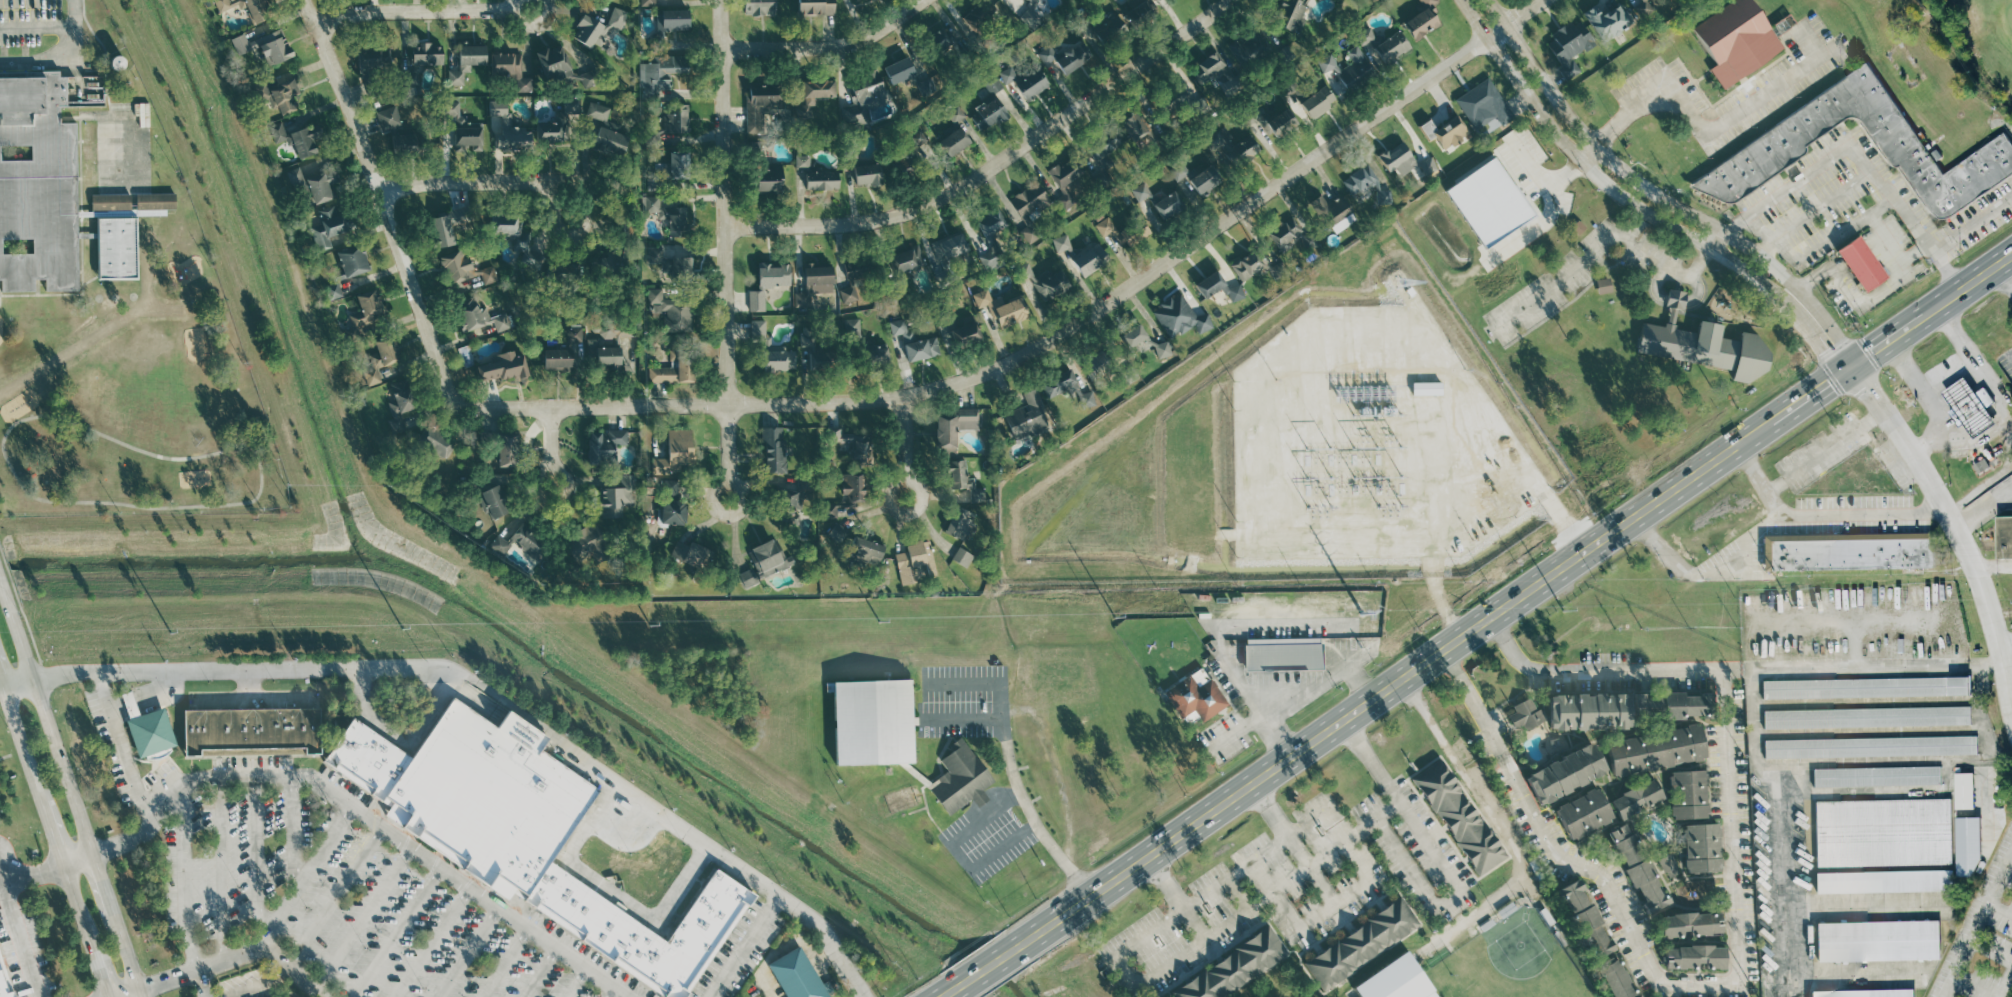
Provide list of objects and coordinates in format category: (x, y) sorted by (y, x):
building: (1035, 0)
building: (851, 1)
building: (647, 3)
building: (246, 8)
building: (758, 8)
building: (814, 8)
building: (1641, 8)
road: (423, 12)
building: (1033, 14)
building: (1286, 14)
building: (1139, 16)
building: (616, 18)
building: (975, 18)
building: (671, 20)
building: (1421, 20)
building: (1612, 22)
road: (37, 27)
building: (587, 32)
building: (1110, 32)
building: (1368, 36)
building: (1735, 40)
building: (936, 42)
building: (240, 45)
road: (831, 45)
building: (1568, 45)
building: (1388, 48)
building: (273, 49)
building: (1242, 50)
building: (1065, 57)
building: (375, 58)
road: (68, 62)
building: (552, 62)
building: (465, 63)
building: (415, 69)
building: (1206, 69)
building: (510, 71)
building: (898, 72)
building: (1355, 73)
building: (661, 74)
building: (1007, 76)
building: (589, 79)
building: (992, 85)
building: (1031, 85)
building: (276, 96)
building: (813, 97)
building: (862, 98)
building: (1169, 102)
building: (1318, 103)
building: (1483, 105)
building: (758, 111)
building: (955, 115)
building: (988, 116)
building: (1252, 116)
building: (388, 119)
road: (1700, 119)
building: (674, 120)
building: (557, 123)
building: (1280, 123)
building: (1135, 128)
building: (506, 129)
building: (1446, 132)
building: (606, 135)
building: (1788, 135)
building: (297, 138)
building: (468, 138)
building: (917, 139)
building: (953, 143)
building: (402, 145)
building: (1229, 148)
building: (1101, 150)
building: (1397, 159)
building: (102, 161)
building: (801, 162)
road: (996, 165)
building: (1416, 165)
building: (676, 166)
building: (907, 167)
building: (1426, 167)
road: (1876, 172)
building: (762, 174)
building: (1062, 174)
building: (866, 176)
building: (1196, 178)
building: (820, 180)
road: (483, 182)
building: (654, 183)
building: (314, 184)
building: (1364, 184)
building: (37, 185)
building: (1141, 193)
road: (1659, 196)
building: (1029, 201)
building: (1065, 201)
road: (1634, 204)
building: (1167, 205)
building: (1499, 209)
building: (1337, 214)
road: (389, 215)
building: (668, 216)
building: (990, 222)
building: (329, 227)
building: (444, 227)
building: (1108, 227)
building: (1580, 227)
building: (1132, 232)
building: (1031, 234)
building: (512, 235)
building: (1289, 235)
road: (1886, 235)
road: (1828, 241)
building: (1063, 243)
building: (115, 248)
building: (948, 248)
road: (726, 250)
road: (1649, 252)
building: (614, 254)
building: (1089, 260)
building: (351, 261)
building: (1251, 262)
building: (1859, 262)
building: (670, 263)
road: (1698, 266)
building: (904, 267)
road: (1947, 269)
building: (465, 270)
building: (858, 270)
road: (1678, 270)
building: (562, 275)
road: (2003, 276)
road: (1566, 277)
building: (1044, 282)
building: (768, 283)
building: (812, 283)
building: (1210, 284)
building: (1607, 286)
building: (333, 291)
road: (1871, 295)
road: (1675, 298)
building: (1001, 308)
building: (671, 312)
building: (363, 315)
building: (478, 317)
building: (1180, 317)
building: (757, 329)
building: (851, 329)
building: (577, 332)
building: (956, 333)
road: (1060, 333)
building: (1132, 336)
building: (808, 337)
building: (914, 343)
building: (768, 344)
building: (1165, 349)
building: (1710, 349)
building: (875, 357)
building: (605, 358)
road: (1972, 358)
building: (380, 359)
building: (556, 359)
building: (778, 361)
building: (822, 362)
building: (1097, 364)
traffic signals: (1852, 364)
building: (502, 366)
building: (674, 370)
building: (1062, 383)
building: (400, 401)
road: (1930, 401)
building: (1970, 407)
building: (1028, 416)
building: (952, 428)
building: (434, 442)
road: (553, 446)
building: (603, 446)
road: (906, 448)
building: (505, 450)
building: (772, 450)
building: (860, 452)
building: (675, 453)
road: (1831, 454)
road: (1766, 479)
building: (963, 481)
building: (1859, 483)
building: (853, 490)
building: (670, 492)
building: (615, 498)
building: (494, 501)
building: (791, 505)
road: (1988, 512)
building: (671, 513)
building: (960, 524)
road: (1962, 526)
road: (1776, 527)
building: (2004, 535)
building: (531, 540)
building: (511, 544)
building: (585, 544)
building: (864, 552)
building: (1848, 552)
building: (689, 554)
building: (965, 557)
building: (767, 560)
building: (914, 561)
road: (1995, 571)
building: (747, 579)
road: (3, 596)
road: (1517, 598)
road: (2005, 641)
building: (1282, 655)
road: (1734, 668)
road: (328, 669)
road: (2, 673)
road: (2, 679)
road: (18, 679)
road: (248, 683)
road: (1243, 683)
building: (1865, 688)
road: (1306, 692)
road: (150, 697)
road: (252, 697)
building: (1194, 699)
building: (129, 706)
building: (1673, 706)
building: (1588, 712)
building: (1527, 715)
building: (1866, 718)
building: (871, 723)
road: (965, 723)
road: (1039, 725)
road: (50, 730)
road: (1238, 730)
road: (20, 731)
building: (251, 732)
building: (150, 733)
road: (124, 747)
building: (1870, 747)
building: (1656, 750)
building: (367, 759)
building: (1565, 774)
building: (1875, 777)
building: (960, 780)
building: (1964, 791)
building: (1687, 795)
building: (488, 797)
building: (1636, 799)
road: (1272, 810)
parking lot: (0, 814)
road: (1029, 814)
building: (1583, 814)
road: (366, 816)
building: (1457, 818)
road: (673, 820)
road: (1364, 824)
road: (1501, 826)
road: (50, 827)
road: (295, 832)
building: (1883, 833)
building: (1968, 847)
building: (1702, 849)
road: (962, 859)
road: (1444, 859)
road: (11, 862)
road: (257, 862)
road: (79, 863)
building: (1668, 865)
road: (221, 868)
building: (1637, 868)
road: (31, 875)
road: (185, 876)
road: (304, 876)
building: (1883, 881)
road: (1168, 883)
road: (610, 893)
road: (74, 895)
road: (335, 896)
parking lot: (338, 898)
road: (1997, 901)
road: (1336, 903)
road: (363, 919)
building: (1586, 919)
road: (1979, 921)
building: (1691, 925)
road: (115, 926)
building: (640, 927)
road: (395, 932)
road: (18, 934)
building: (1878, 941)
road: (432, 942)
road: (742, 945)
building: (1360, 945)
parking lot: (25, 947)
road: (1969, 947)
road: (467, 952)
road: (236, 955)
road: (97, 958)
building: (1695, 958)
road: (503, 962)
park: (1509, 964)
building: (1235, 967)
road: (1126, 970)
road: (985, 971)
road: (538, 972)
building: (795, 975)
road: (1659, 978)
building: (1399, 981)
road: (1979, 981)
road: (574, 982)
road: (203, 983)
road: (254, 983)
building: (4, 984)
parking lot: (244, 984)
road: (2005, 986)
road: (611, 992)
road: (128, 993)
building: (1868, 993)
road: (290, 995)

